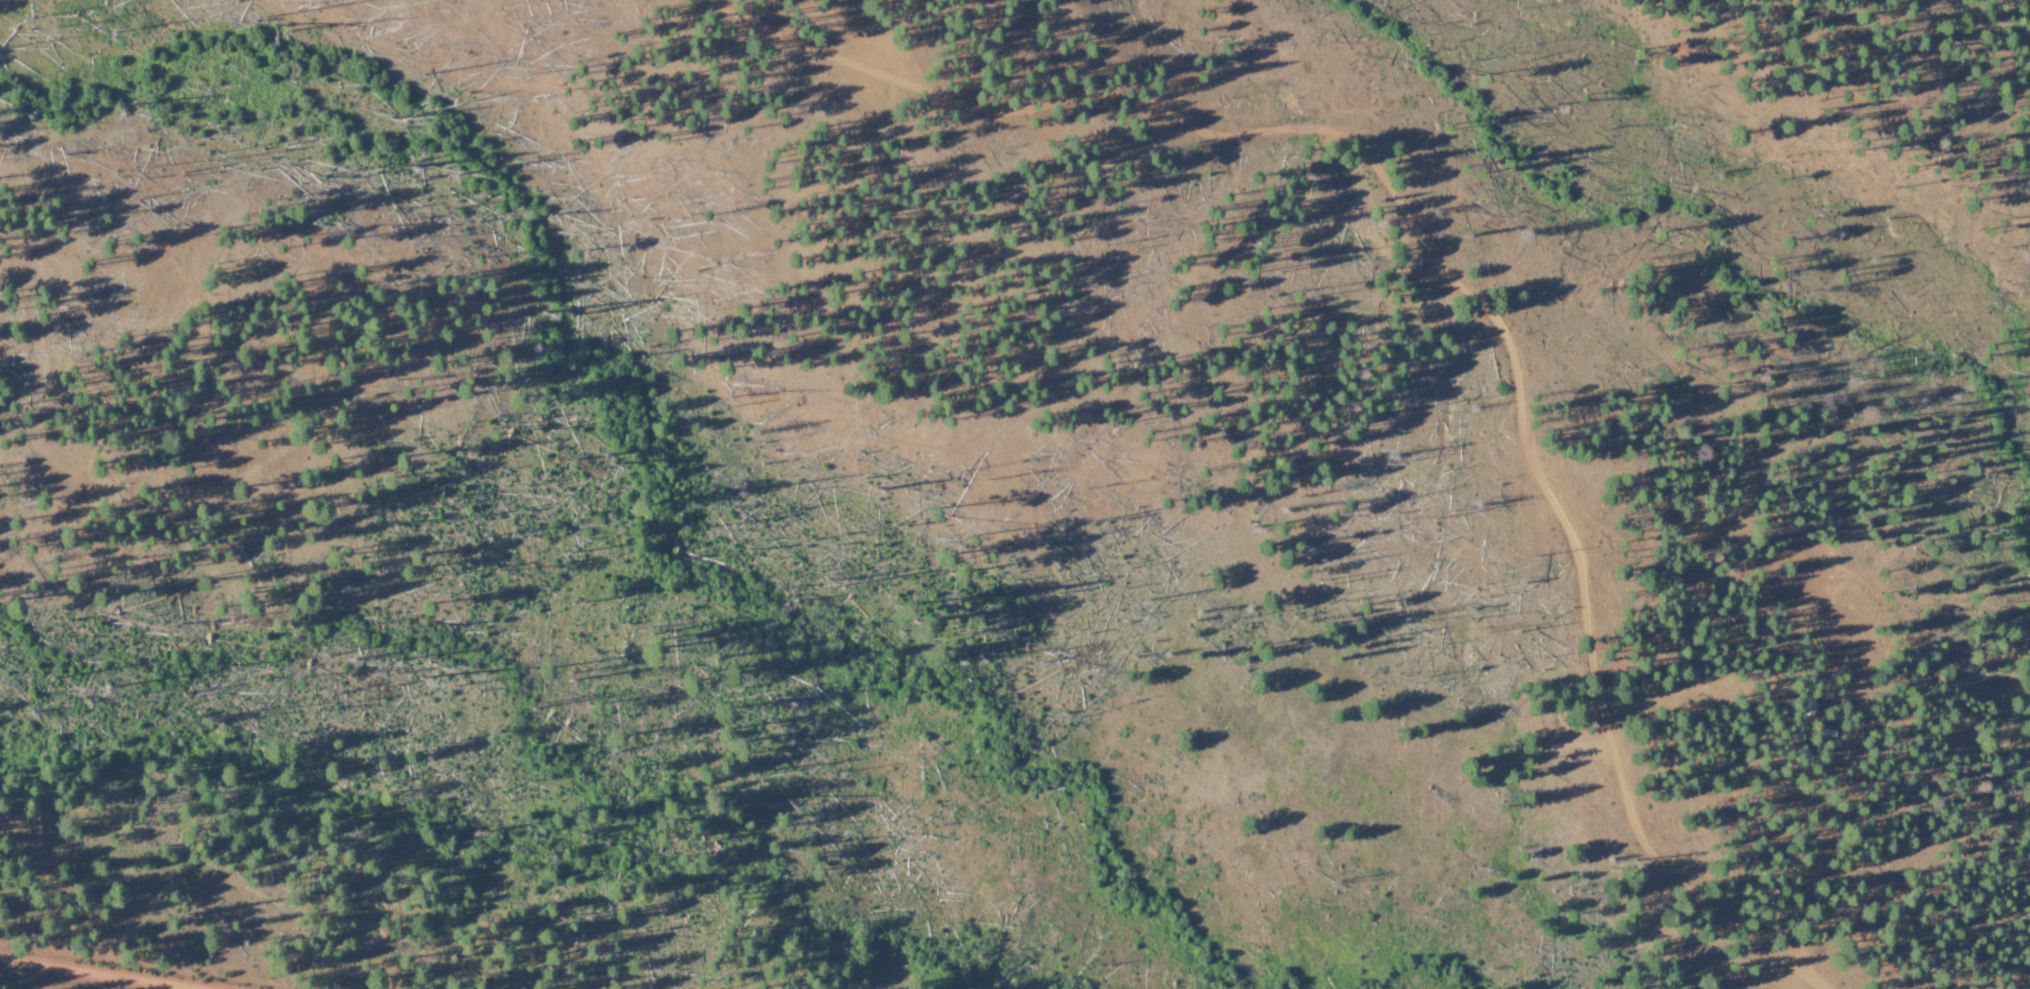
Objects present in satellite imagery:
road: (2029, 0)
road: (1459, 272)
road: (98, 973)

